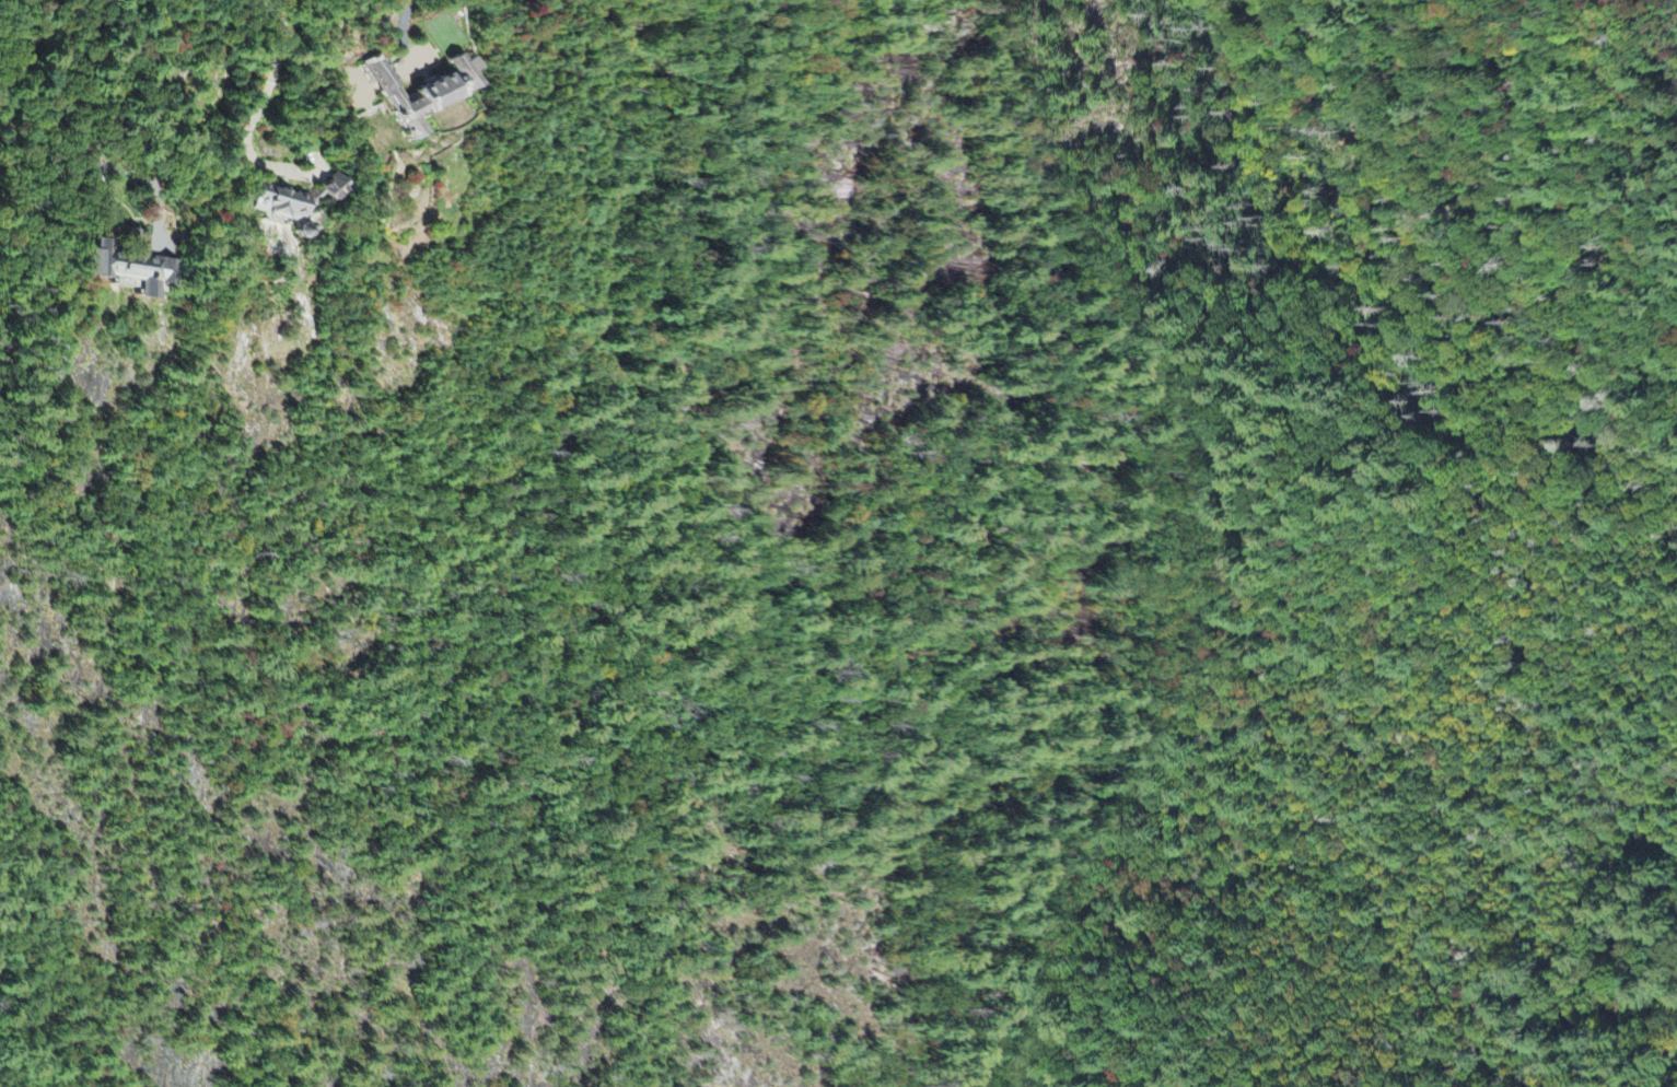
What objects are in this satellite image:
road: (408, 16)
road: (272, 66)
building: (417, 93)
building: (294, 204)
building: (131, 268)

